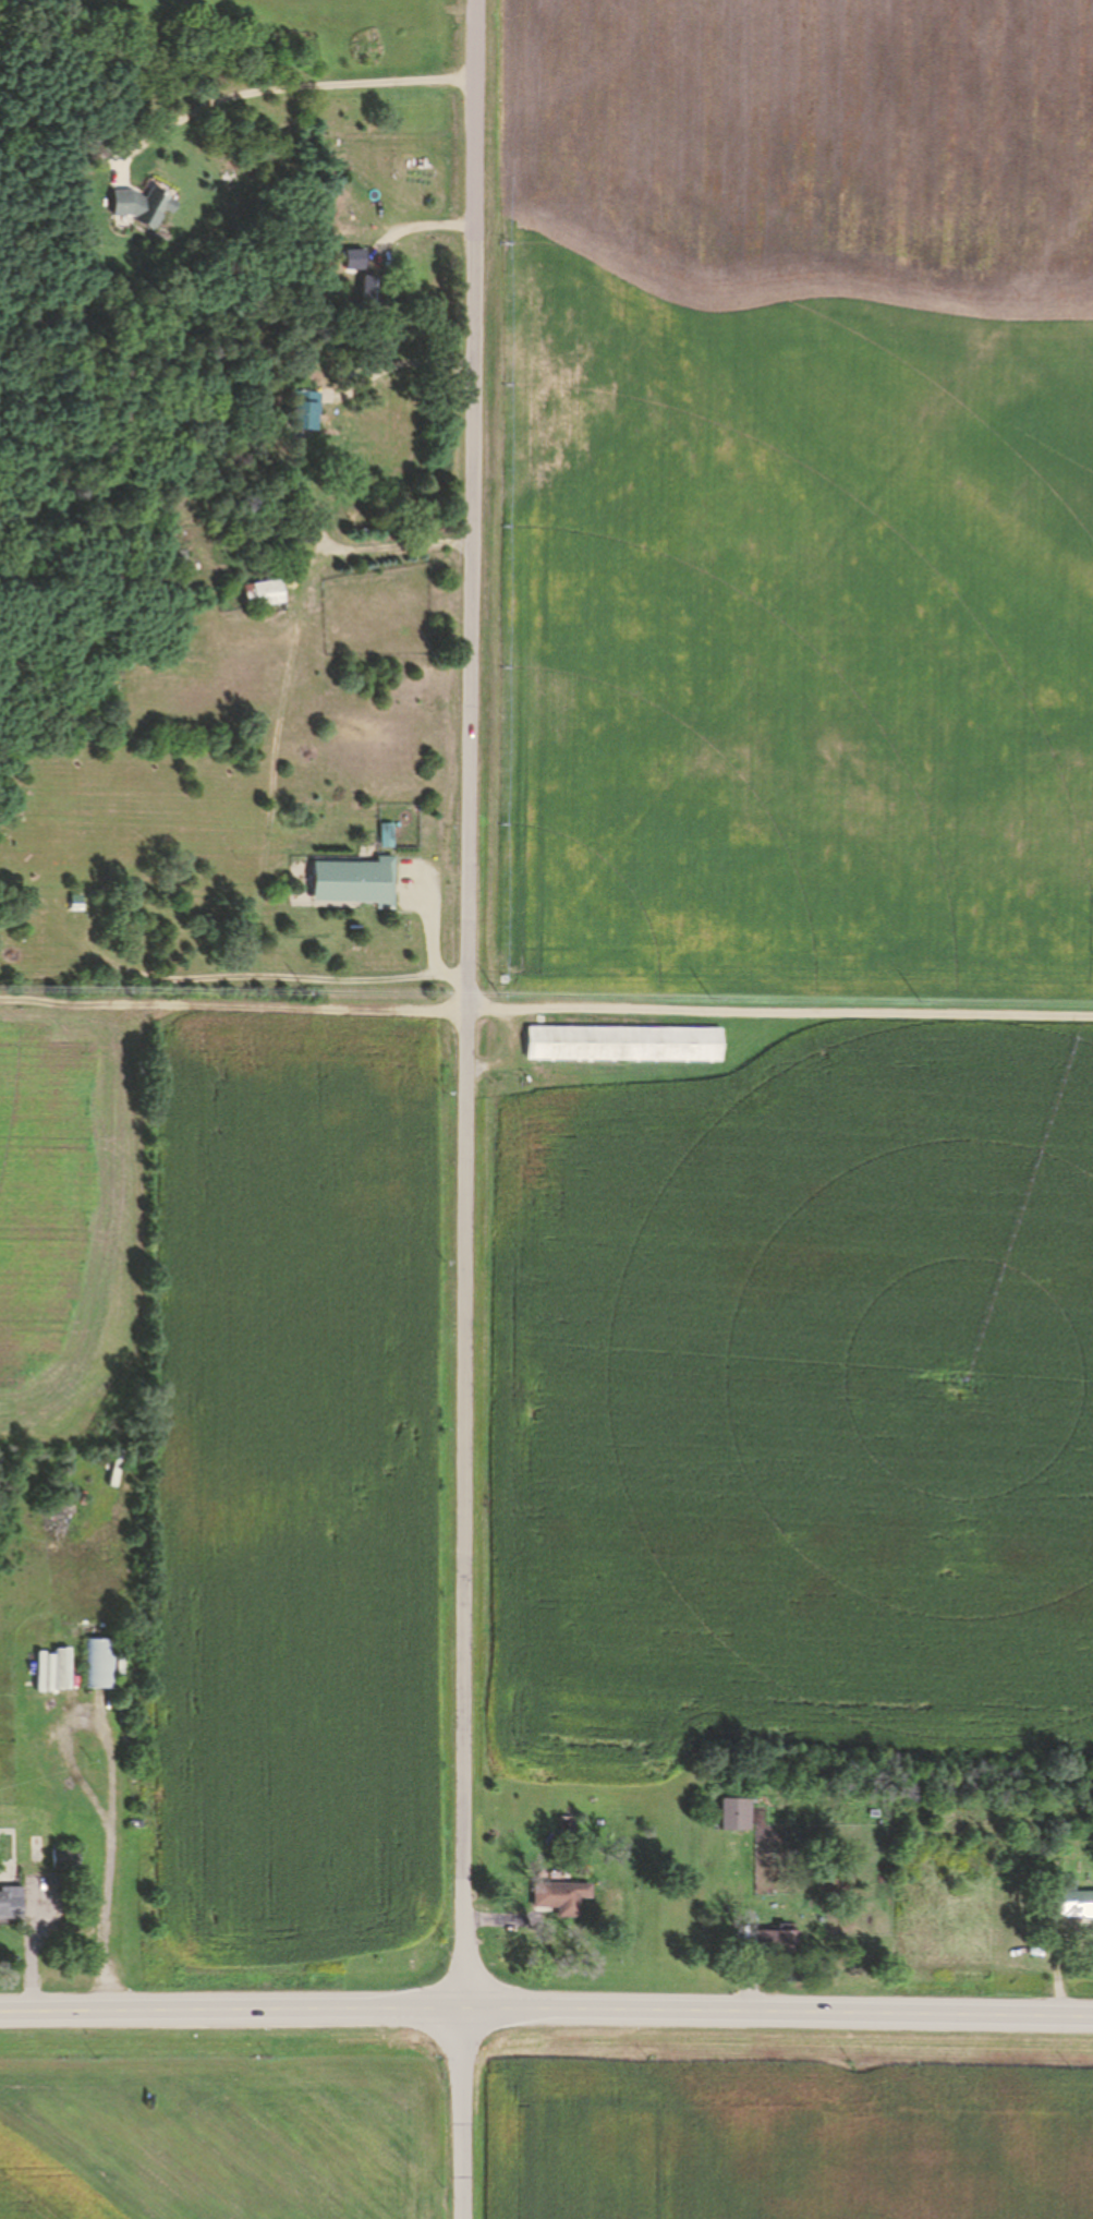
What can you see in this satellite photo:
building: (69, 154)
building: (141, 206)
building: (217, 284)
building: (382, 294)
building: (302, 410)
building: (229, 459)
building: (178, 563)
building: (264, 594)
building: (336, 630)
building: (387, 836)
building: (354, 883)
building: (70, 902)
building: (76, 903)
building: (542, 1020)
building: (623, 1045)
road: (465, 1109)
building: (113, 1450)
building: (100, 1663)
building: (736, 1816)
building: (571, 1835)
building: (36, 1858)
building: (61, 1860)
building: (1035, 1874)
building: (7, 1883)
building: (559, 1897)
building: (1071, 1902)
building: (10, 1903)
building: (774, 1941)
road: (546, 2007)
crop: (209, 2133)
crop: (790, 2134)

